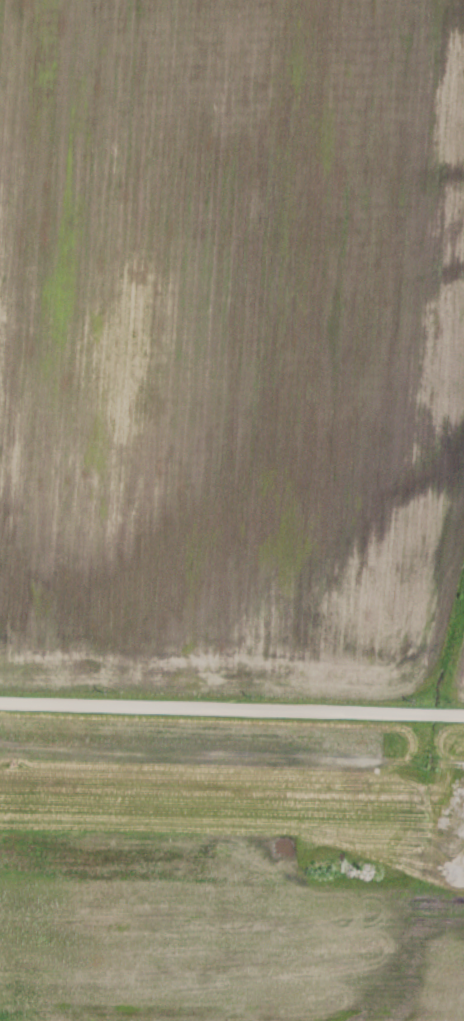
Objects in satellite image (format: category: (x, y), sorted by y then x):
road: (232, 706)

